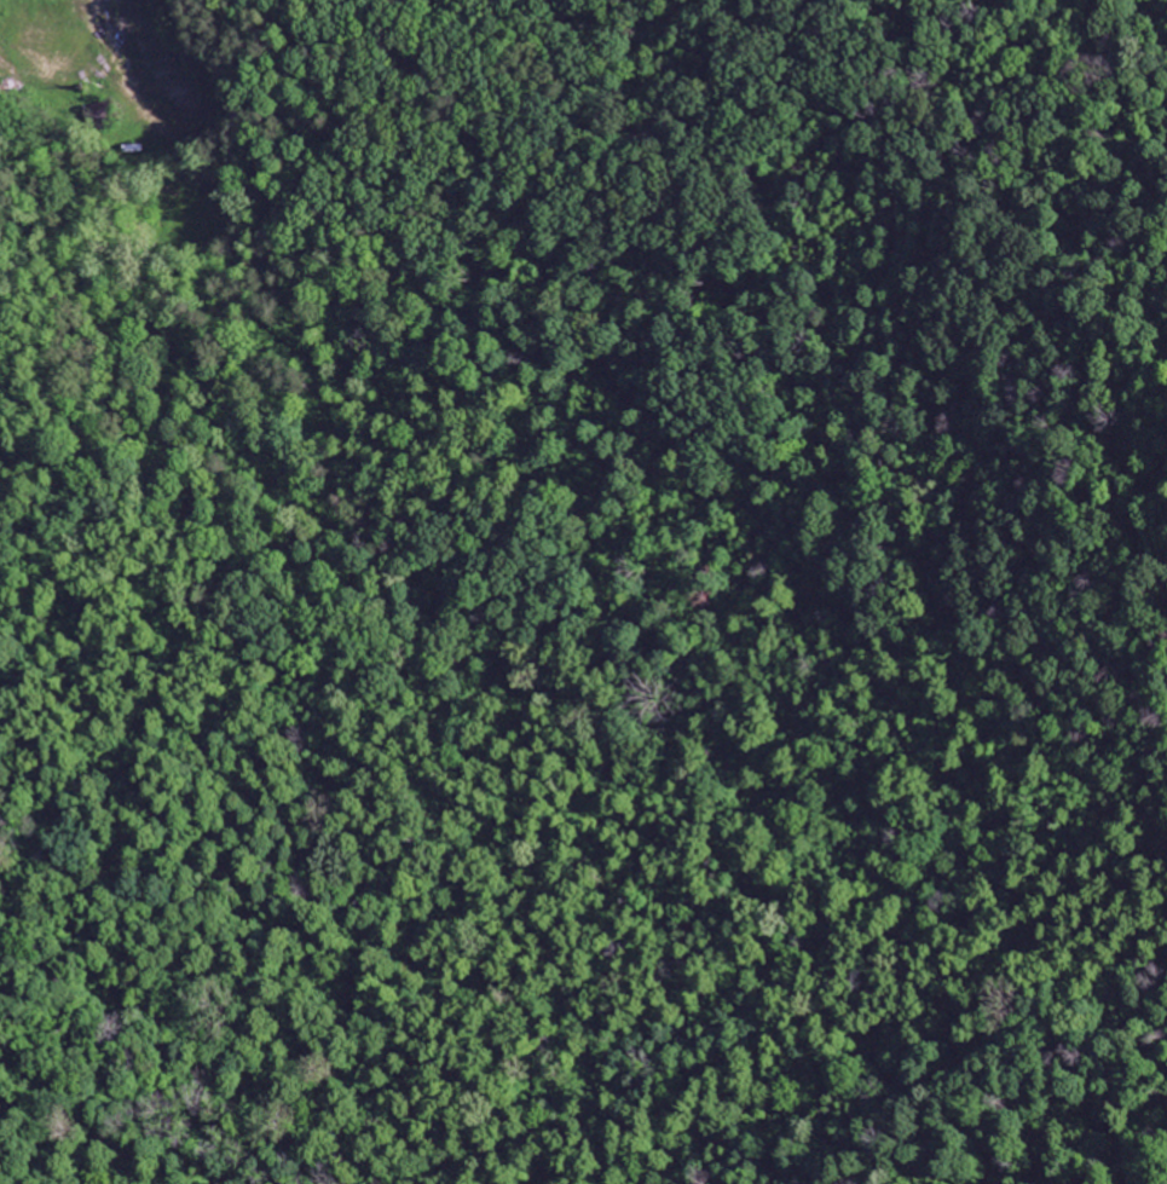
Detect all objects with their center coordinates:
road: (93, 18)

